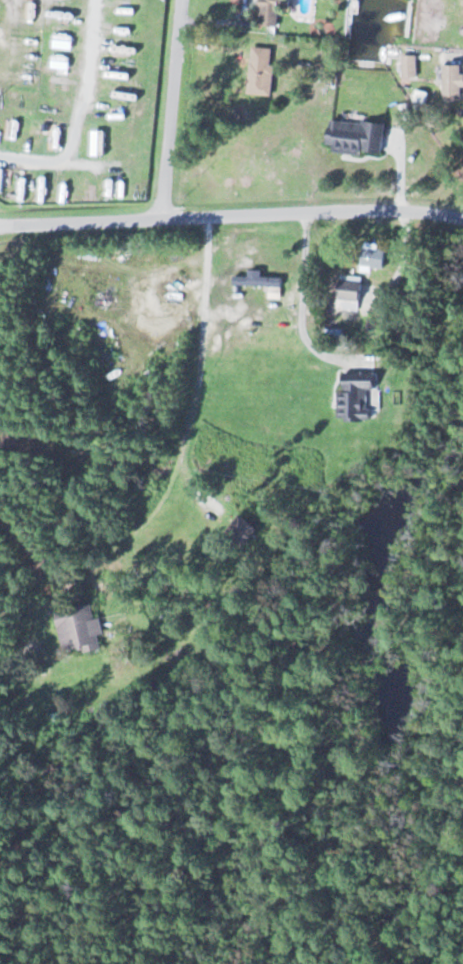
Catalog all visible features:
building: (267, 13)
road: (93, 54)
building: (258, 71)
building: (450, 81)
building: (61, 85)
road: (170, 109)
building: (13, 133)
building: (36, 134)
building: (352, 137)
building: (96, 140)
road: (48, 167)
building: (40, 191)
road: (231, 217)
building: (371, 258)
building: (255, 281)
building: (347, 293)
building: (350, 401)
building: (238, 531)
building: (75, 628)

